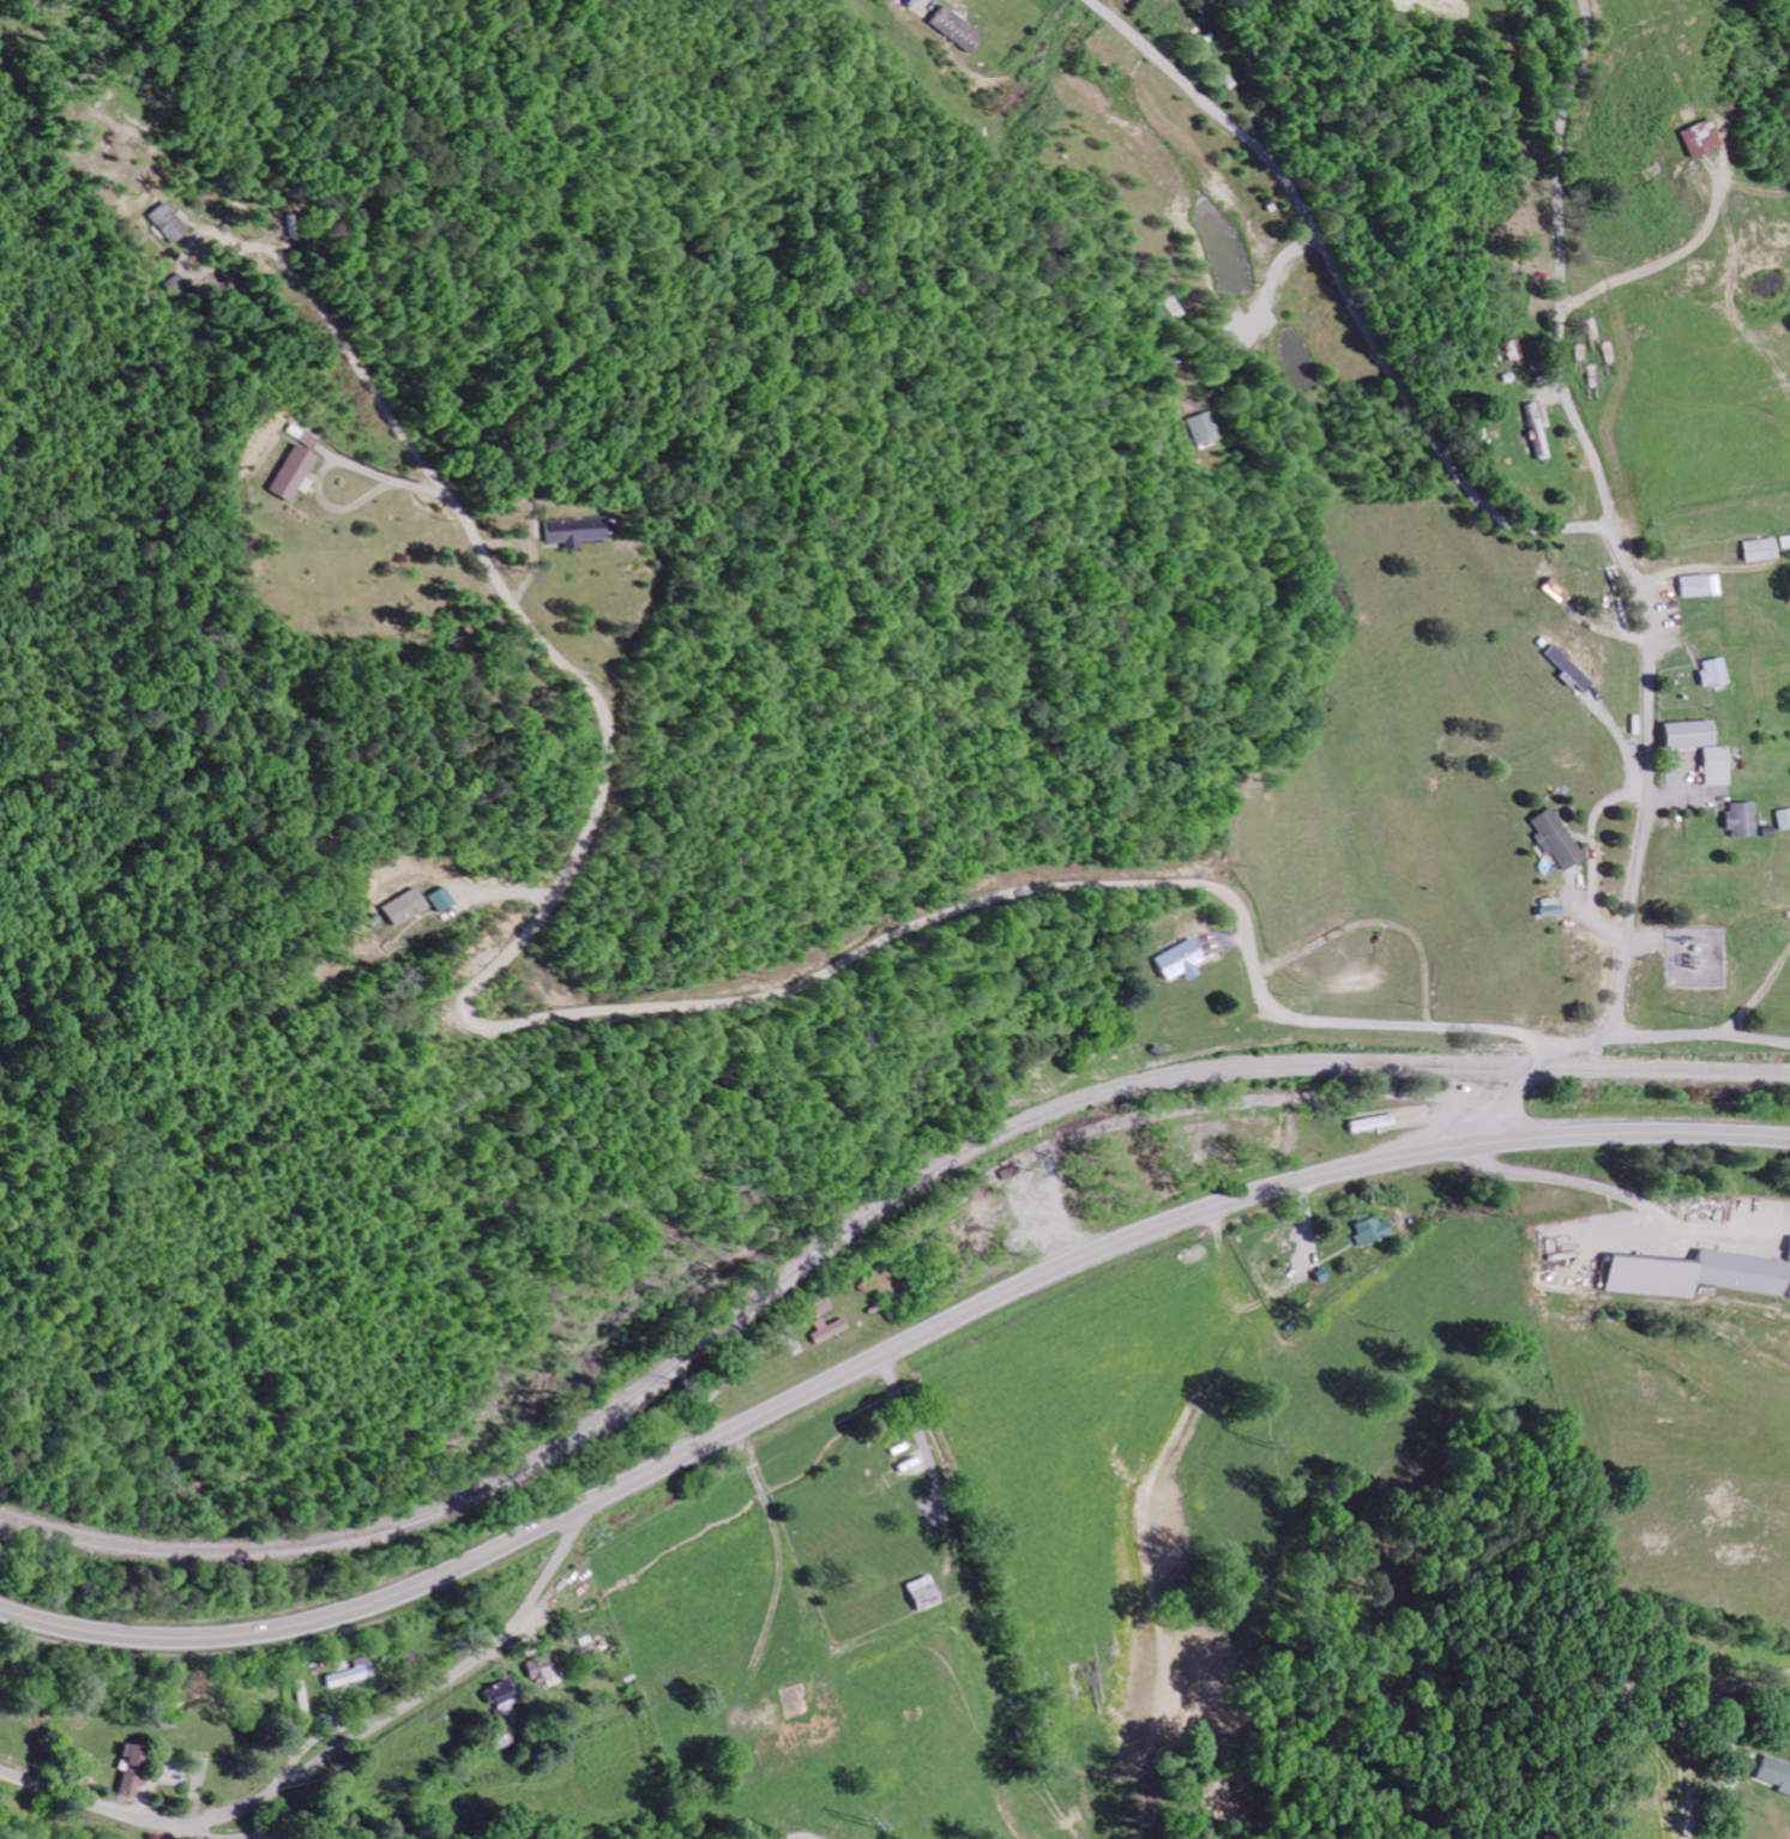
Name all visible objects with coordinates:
building: (950, 30)
building: (1684, 139)
building: (167, 223)
road: (185, 246)
road: (1339, 293)
building: (1501, 350)
building: (1201, 428)
building: (1527, 430)
road: (325, 463)
building: (291, 474)
building: (573, 531)
road: (1631, 575)
building: (1692, 585)
building: (1543, 589)
building: (1704, 673)
building: (1677, 734)
road: (1619, 749)
building: (1706, 766)
building: (1731, 819)
building: (1778, 819)
building: (1543, 837)
road: (1587, 856)
road: (498, 894)
building: (402, 908)
power substation: (1704, 955)
building: (1171, 959)
road: (605, 1011)
road: (1698, 1033)
road: (1272, 1101)
road: (1497, 1123)
road: (1632, 1195)
road: (1067, 1200)
railway: (861, 1219)
building: (1369, 1230)
building: (1788, 1247)
building: (1695, 1274)
building: (833, 1332)
road: (882, 1355)
road: (736, 1374)
road: (920, 1425)
road: (779, 1572)
building: (549, 1671)
building: (358, 1676)
building: (505, 1693)
road: (339, 1745)
building: (143, 1771)
building: (1771, 1775)
road: (1746, 1799)
road: (210, 1832)
road: (311, 1834)

